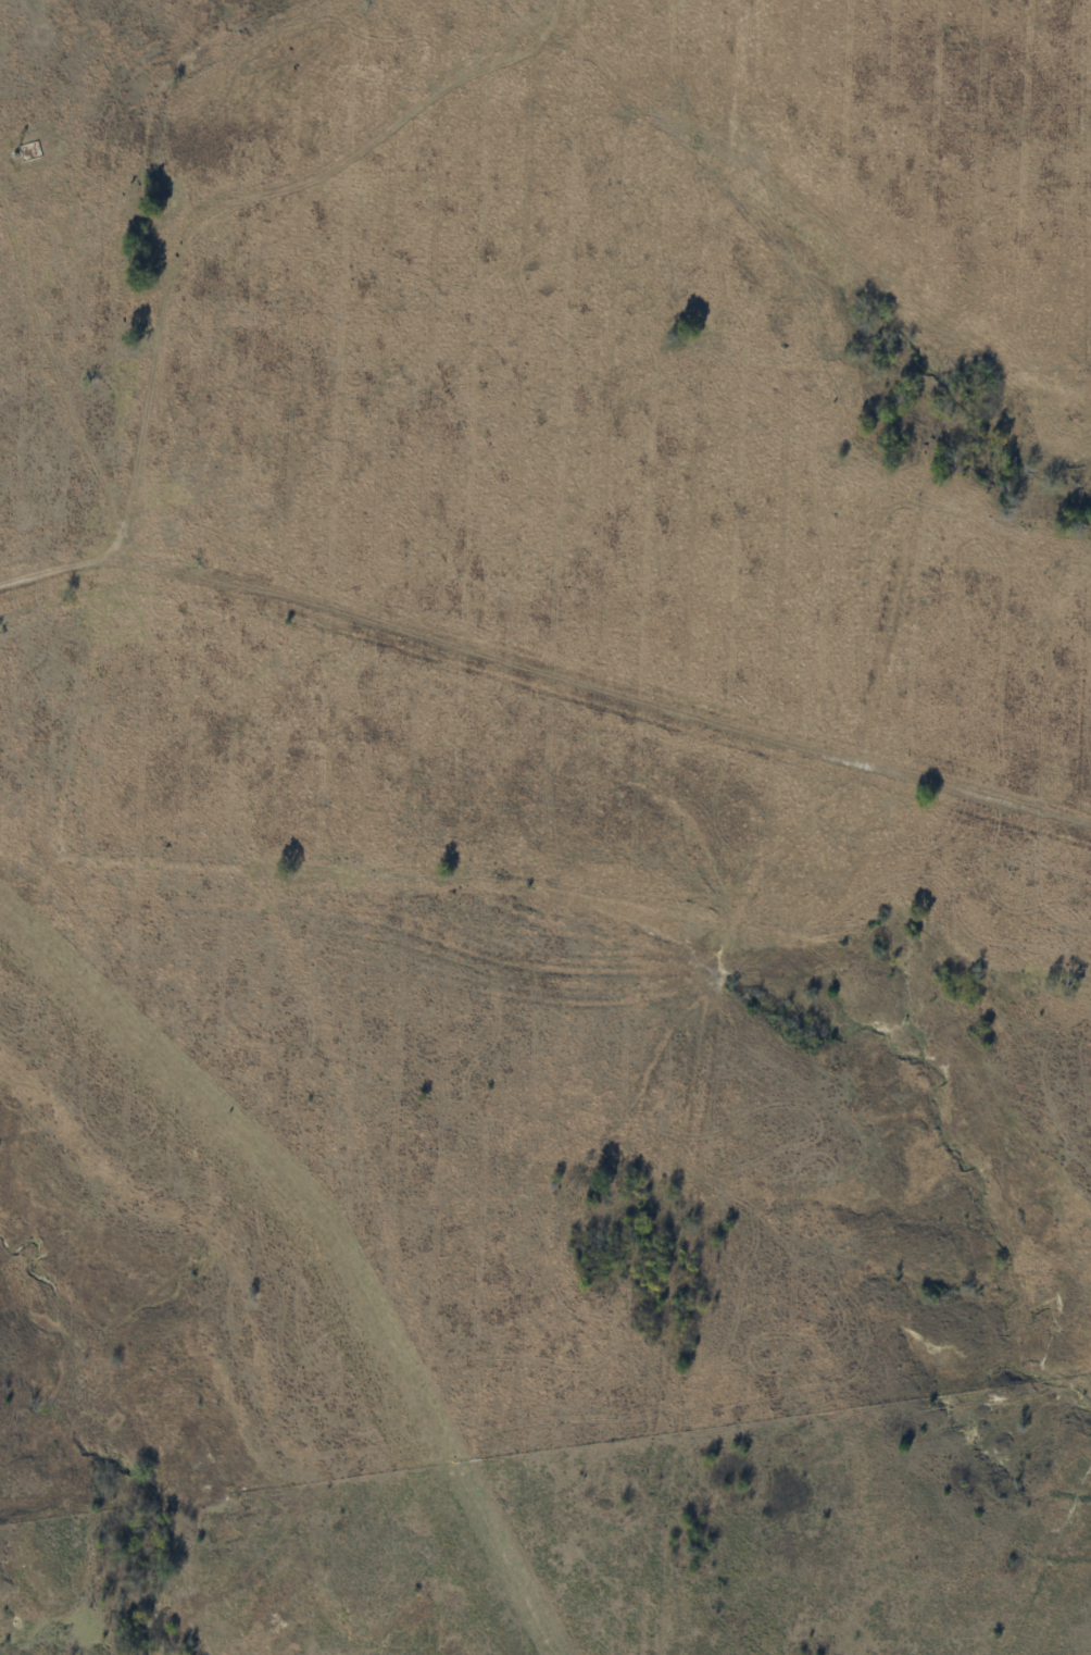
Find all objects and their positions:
road: (57, 344)
road: (227, 795)

